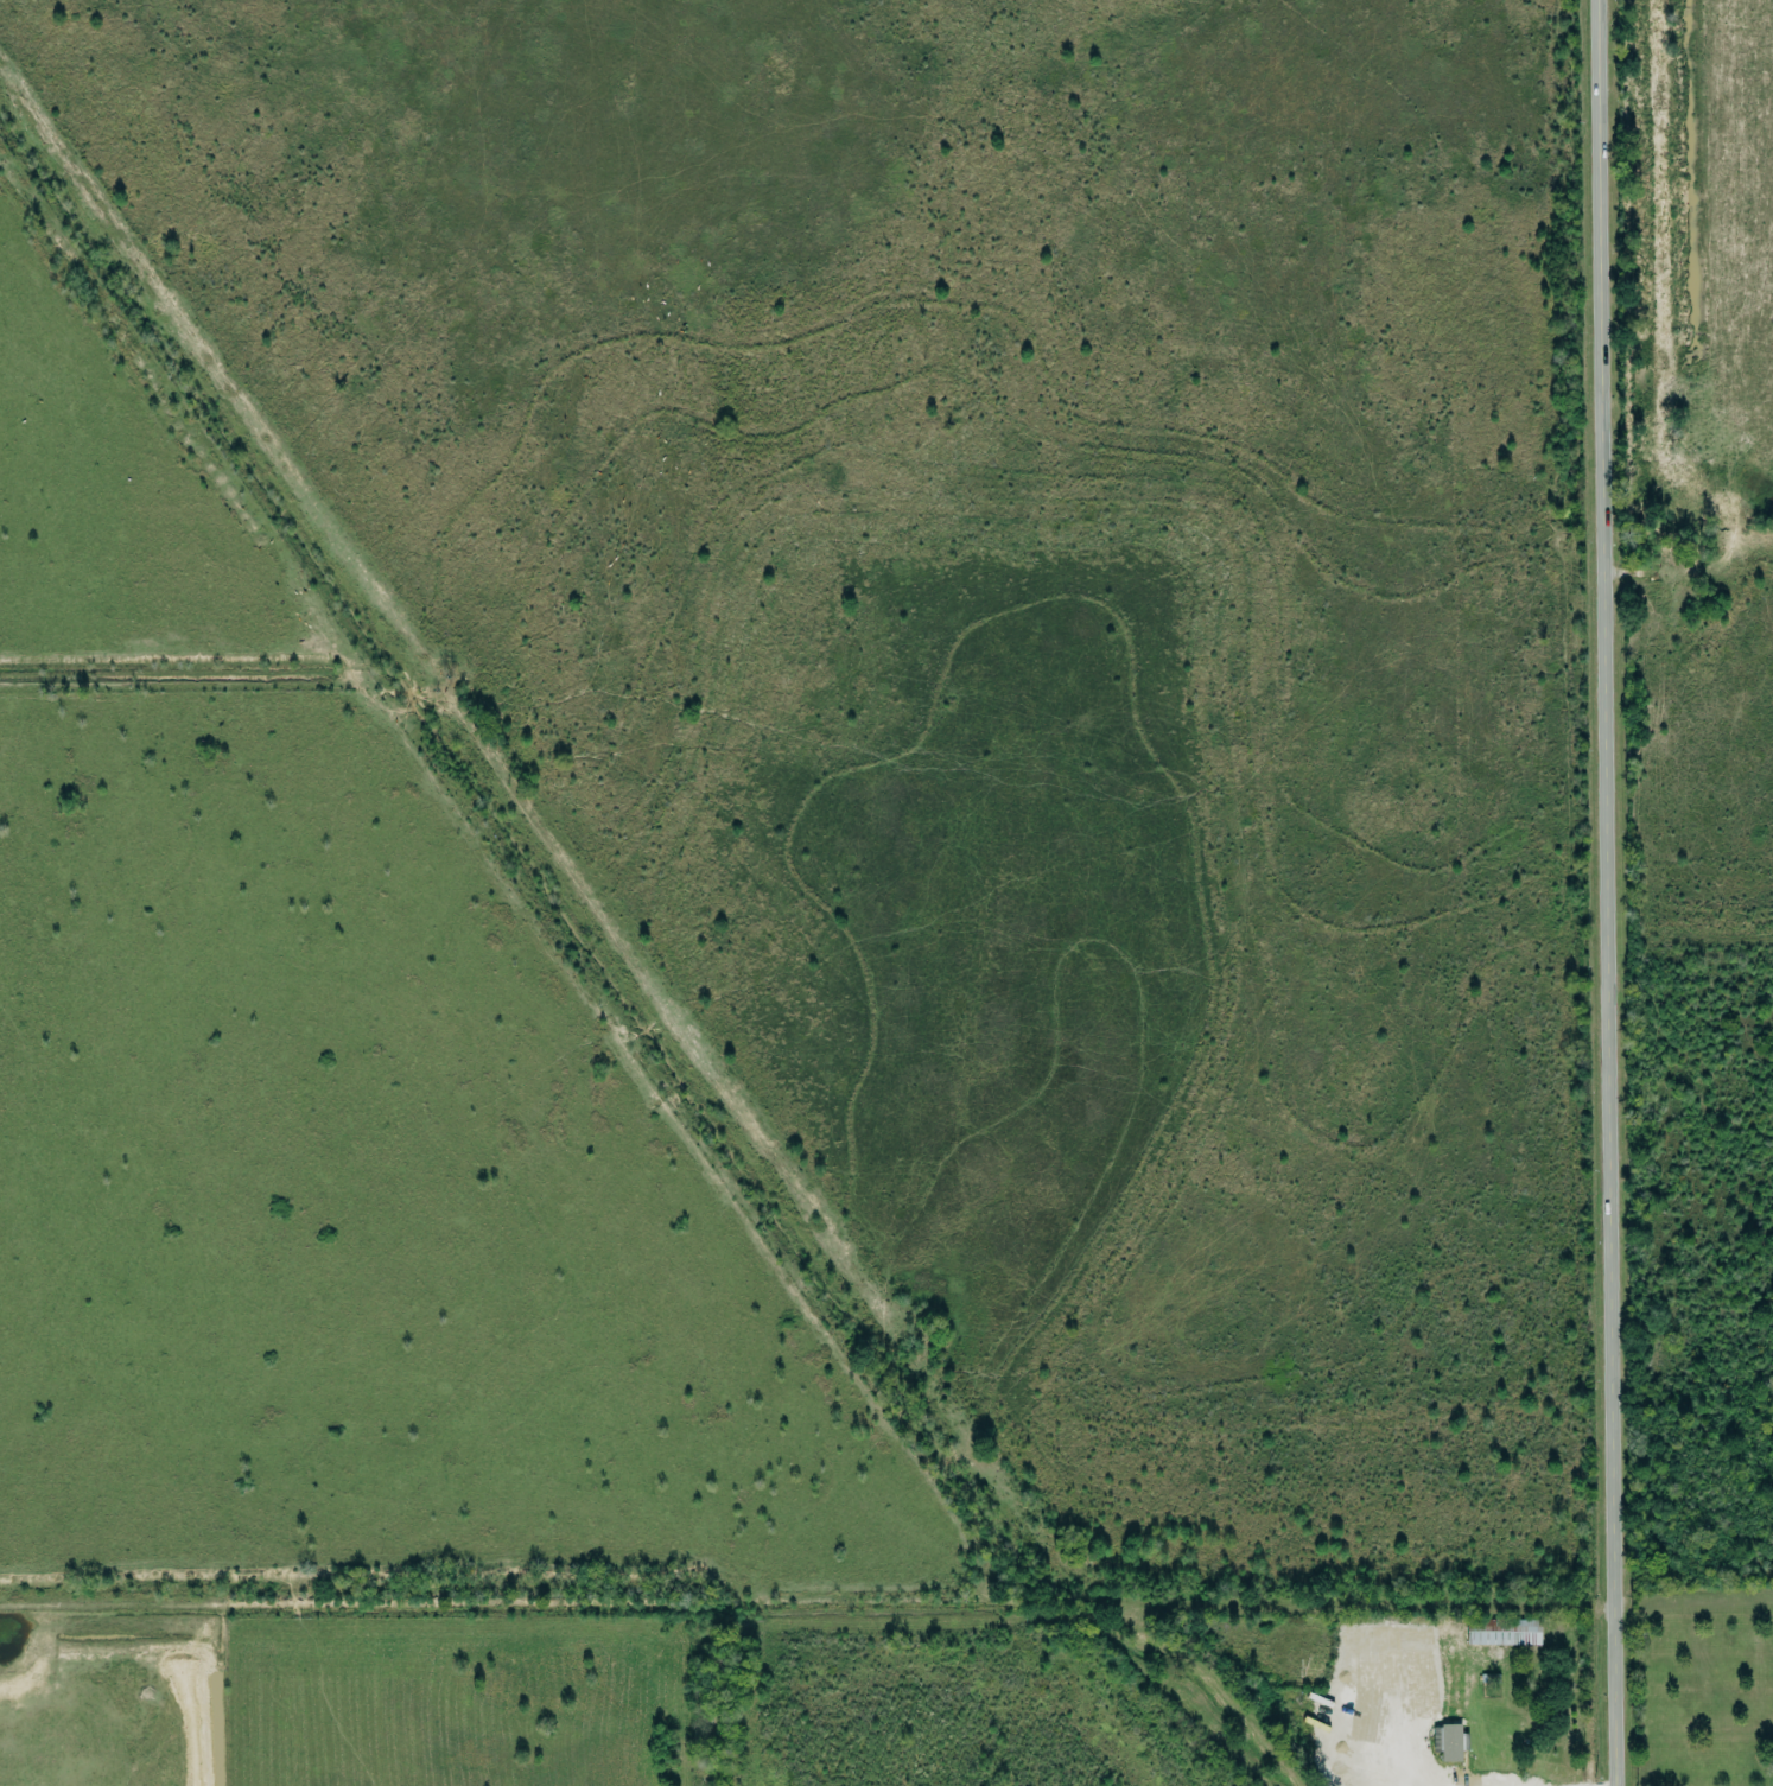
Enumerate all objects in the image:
road: (1616, 892)
river: (610, 970)
road: (1375, 1602)
road: (564, 1604)
building: (1504, 1632)
building: (1449, 1742)

